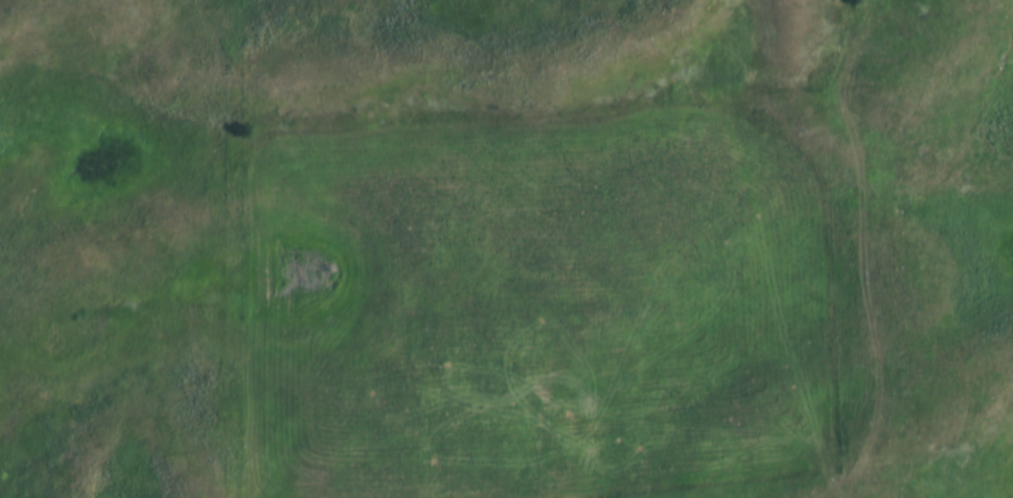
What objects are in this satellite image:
road: (863, 235)

